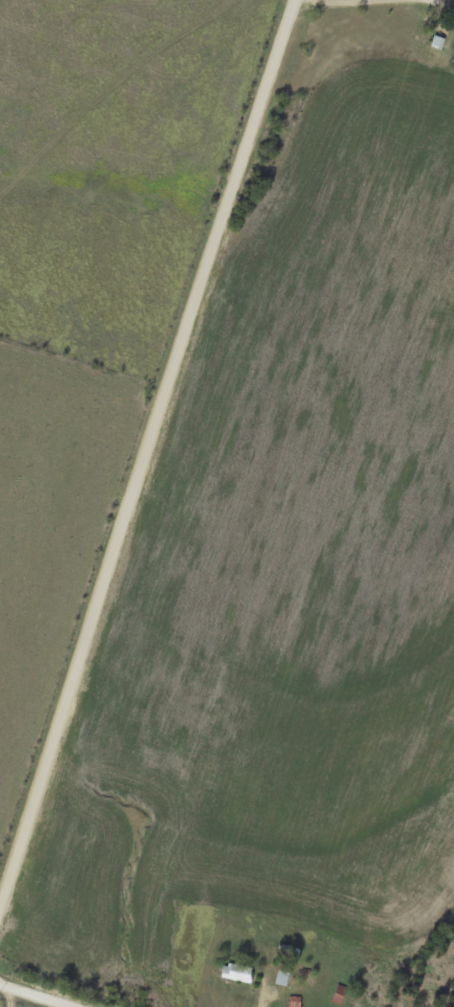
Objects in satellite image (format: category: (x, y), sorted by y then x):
building: (452, 7)
road: (150, 452)
road: (38, 995)

